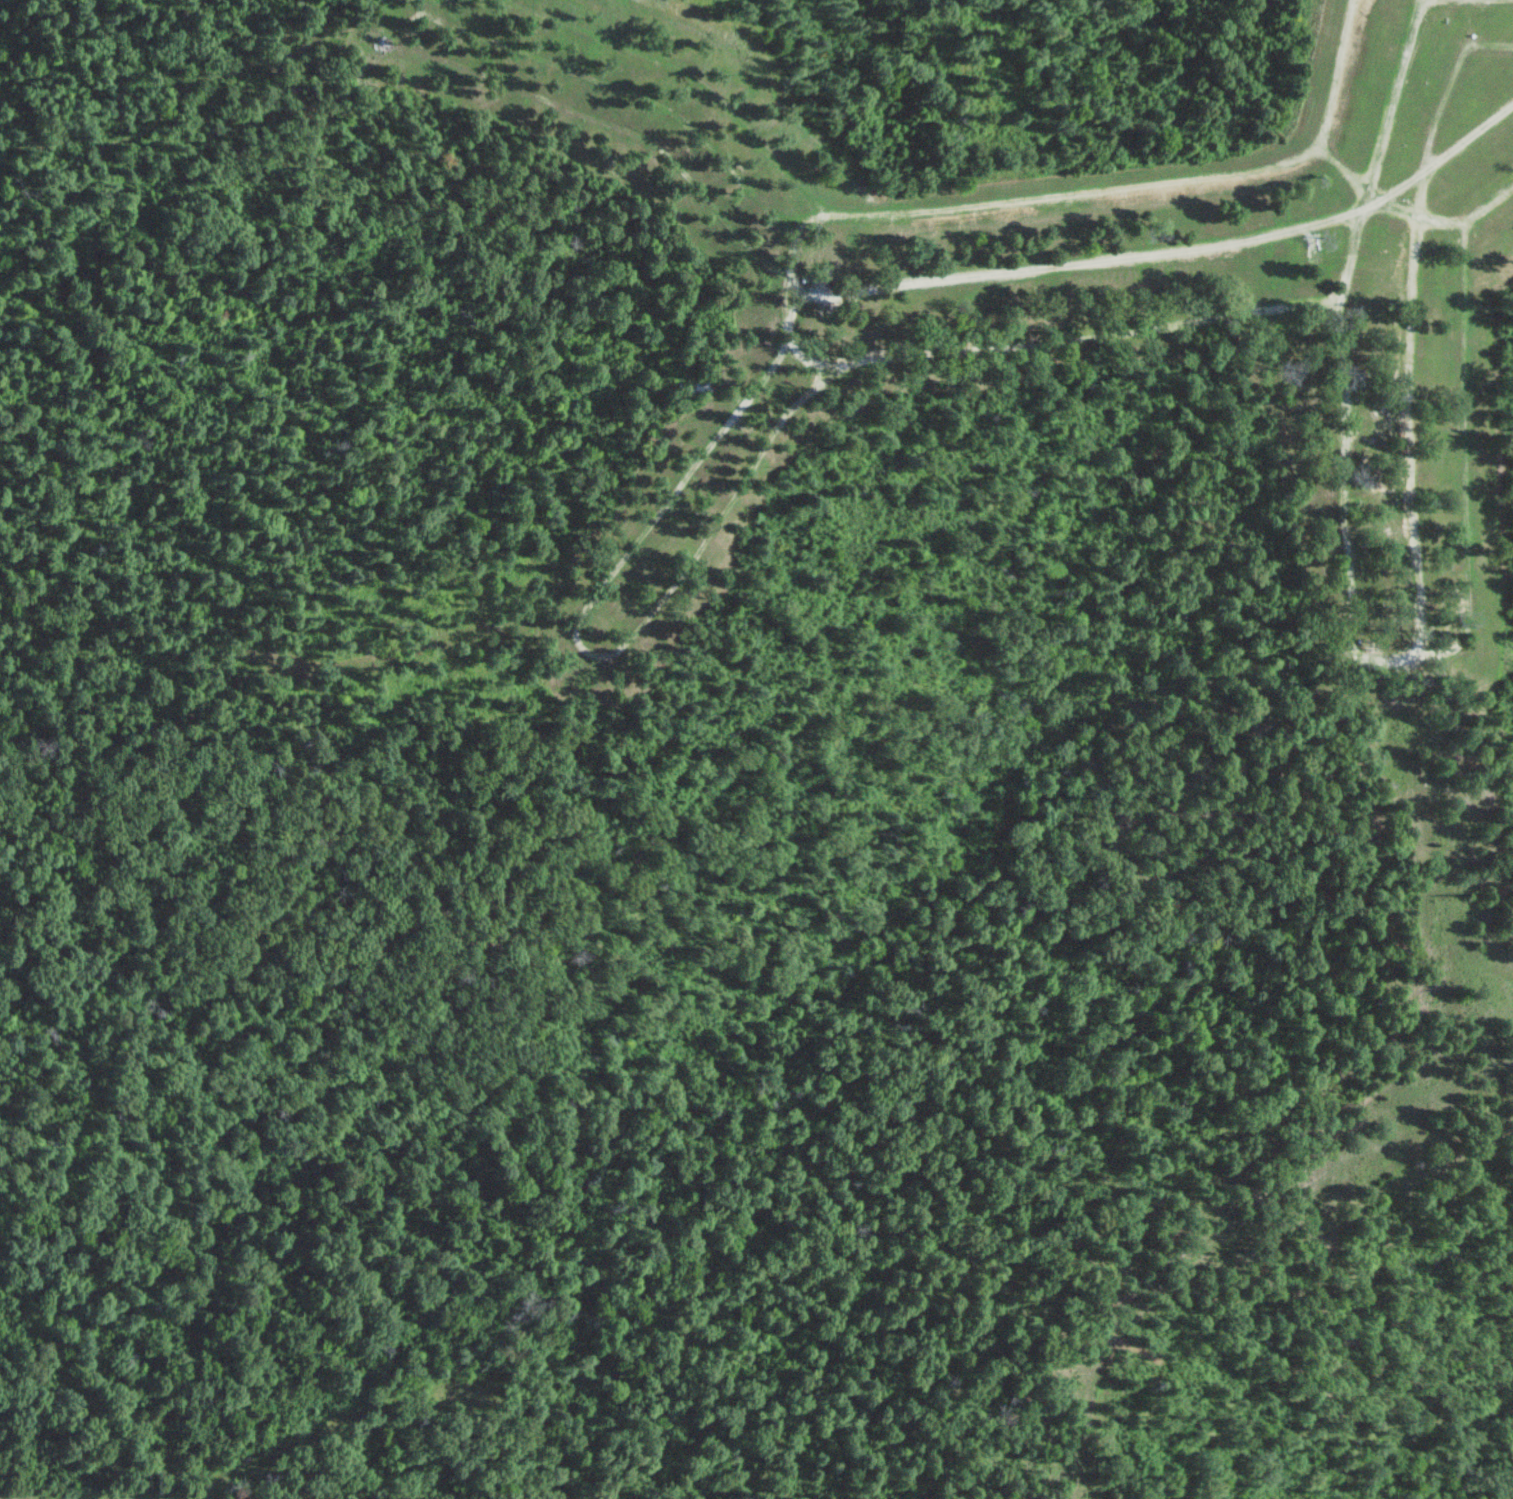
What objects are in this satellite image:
road: (1444, 11)
road: (440, 12)
road: (430, 16)
road: (410, 19)
road: (1488, 41)
road: (692, 74)
road: (1448, 83)
road: (1393, 94)
road: (656, 100)
road: (1447, 151)
road: (1349, 172)
road: (1076, 188)
road: (1335, 217)
road: (808, 218)
road: (814, 248)
road: (1061, 263)
road: (804, 289)
road: (809, 298)
road: (804, 330)
road: (814, 333)
road: (1054, 338)
road: (812, 364)
road: (733, 415)
road: (737, 445)
road: (1346, 464)
road: (1378, 488)
road: (672, 513)
road: (686, 530)
road: (1412, 642)
road: (1398, 654)

